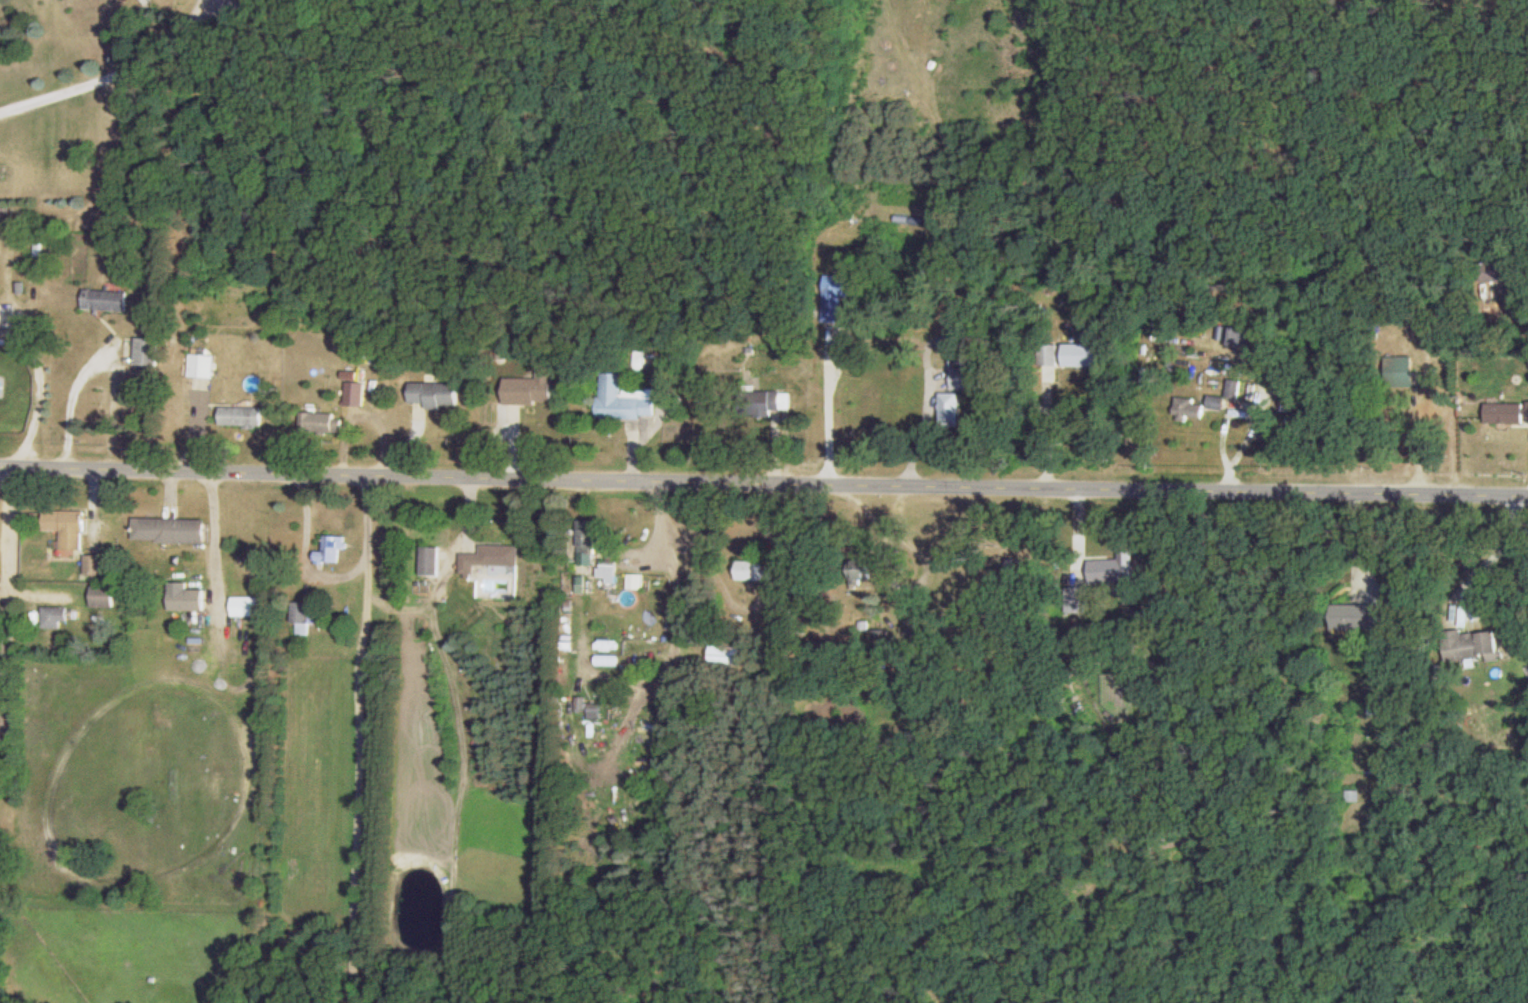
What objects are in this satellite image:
road: (114, 71)
building: (1494, 270)
building: (836, 296)
building: (105, 299)
building: (0, 316)
building: (1239, 335)
building: (147, 350)
building: (1083, 354)
building: (201, 364)
building: (1404, 370)
building: (964, 378)
road: (931, 384)
building: (1233, 387)
building: (531, 389)
building: (354, 393)
building: (435, 394)
road: (74, 398)
building: (623, 400)
building: (768, 401)
building: (1217, 401)
road: (826, 405)
building: (950, 409)
building: (1188, 409)
building: (1505, 412)
building: (241, 415)
building: (320, 422)
road: (1048, 429)
road: (763, 481)
building: (66, 526)
building: (173, 529)
road: (214, 532)
building: (587, 536)
building: (330, 549)
road: (1499, 550)
road: (307, 555)
building: (490, 558)
building: (429, 560)
building: (94, 564)
building: (861, 569)
building: (606, 570)
building: (753, 570)
building: (1115, 571)
building: (1013, 573)
building: (103, 595)
building: (187, 598)
building: (1076, 599)
building: (246, 605)
building: (781, 606)
road: (8, 607)
building: (305, 615)
building: (54, 616)
building: (1359, 616)
building: (879, 639)
building: (1471, 646)
building: (725, 655)
road: (360, 672)
building: (1373, 703)
building: (585, 708)
building: (1353, 795)

